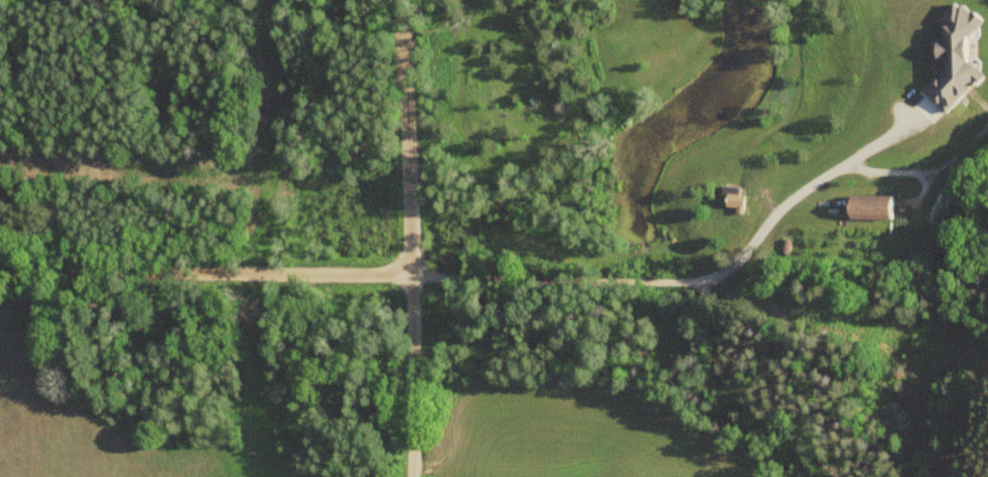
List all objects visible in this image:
building: (955, 61)
road: (403, 135)
building: (739, 196)
building: (880, 206)
road: (205, 265)
road: (686, 281)
road: (408, 373)

